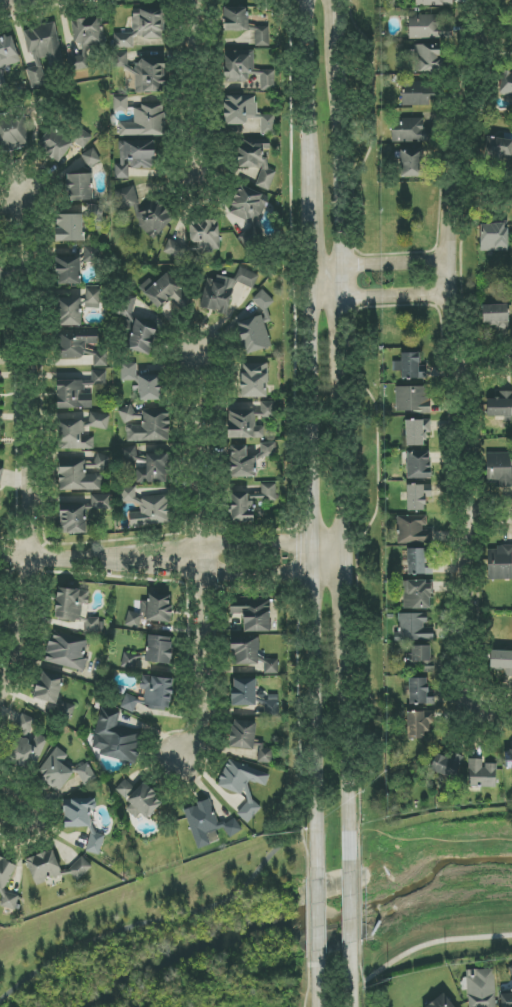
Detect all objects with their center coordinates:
building: (434, 3)
building: (511, 11)
building: (236, 19)
building: (431, 26)
building: (142, 27)
building: (262, 36)
road: (493, 36)
road: (342, 38)
building: (85, 40)
building: (43, 51)
building: (428, 58)
building: (7, 60)
building: (121, 60)
building: (246, 70)
building: (150, 76)
building: (506, 83)
road: (187, 87)
road: (309, 87)
building: (415, 93)
building: (120, 104)
building: (240, 112)
building: (145, 122)
building: (268, 124)
building: (412, 131)
building: (11, 136)
building: (81, 138)
building: (55, 144)
building: (499, 148)
building: (134, 157)
building: (91, 158)
building: (256, 159)
building: (411, 162)
building: (80, 187)
road: (480, 192)
building: (127, 198)
road: (4, 201)
building: (95, 213)
building: (247, 214)
building: (153, 217)
building: (69, 228)
building: (204, 235)
road: (310, 235)
building: (493, 237)
building: (176, 250)
building: (92, 255)
road: (378, 263)
building: (68, 270)
building: (0, 277)
building: (246, 278)
building: (166, 292)
road: (380, 293)
building: (218, 295)
building: (93, 298)
road: (342, 308)
building: (70, 312)
building: (496, 316)
building: (136, 327)
building: (256, 328)
building: (76, 342)
road: (455, 354)
building: (100, 359)
building: (409, 366)
road: (484, 366)
building: (129, 371)
building: (99, 377)
building: (254, 380)
building: (149, 387)
building: (73, 395)
building: (412, 399)
building: (501, 406)
building: (267, 409)
building: (128, 414)
building: (98, 420)
building: (243, 425)
building: (151, 428)
building: (417, 432)
road: (15, 433)
building: (73, 435)
building: (268, 450)
building: (101, 462)
building: (242, 463)
building: (418, 465)
building: (151, 468)
building: (498, 468)
building: (0, 472)
building: (77, 476)
building: (127, 494)
building: (418, 496)
building: (100, 502)
building: (249, 503)
building: (152, 512)
building: (72, 516)
road: (486, 519)
building: (412, 530)
road: (251, 542)
road: (78, 556)
building: (417, 562)
building: (499, 563)
road: (202, 564)
road: (251, 572)
road: (320, 585)
building: (417, 595)
road: (350, 604)
building: (76, 609)
building: (151, 611)
building: (254, 613)
building: (413, 628)
building: (159, 649)
building: (245, 651)
building: (67, 652)
building: (421, 656)
building: (128, 661)
building: (501, 662)
building: (270, 666)
building: (49, 687)
building: (157, 692)
building: (244, 692)
building: (419, 692)
building: (130, 703)
building: (272, 705)
road: (492, 714)
building: (419, 724)
building: (243, 735)
building: (115, 738)
building: (26, 745)
building: (265, 755)
building: (508, 759)
building: (446, 765)
building: (56, 769)
road: (351, 770)
building: (86, 774)
building: (481, 774)
building: (138, 800)
building: (78, 812)
road: (13, 816)
building: (207, 824)
building: (95, 844)
building: (43, 867)
building: (80, 868)
building: (5, 872)
building: (10, 901)
road: (352, 913)
road: (319, 919)
road: (162, 921)
park: (169, 938)
road: (425, 944)
road: (352, 981)
road: (319, 985)
building: (481, 988)
building: (439, 1001)

